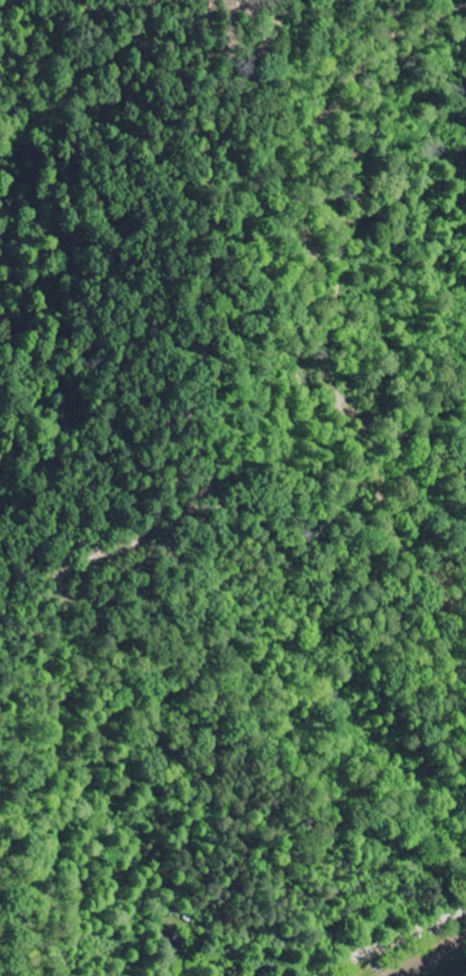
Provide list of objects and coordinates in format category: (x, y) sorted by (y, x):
road: (393, 945)

